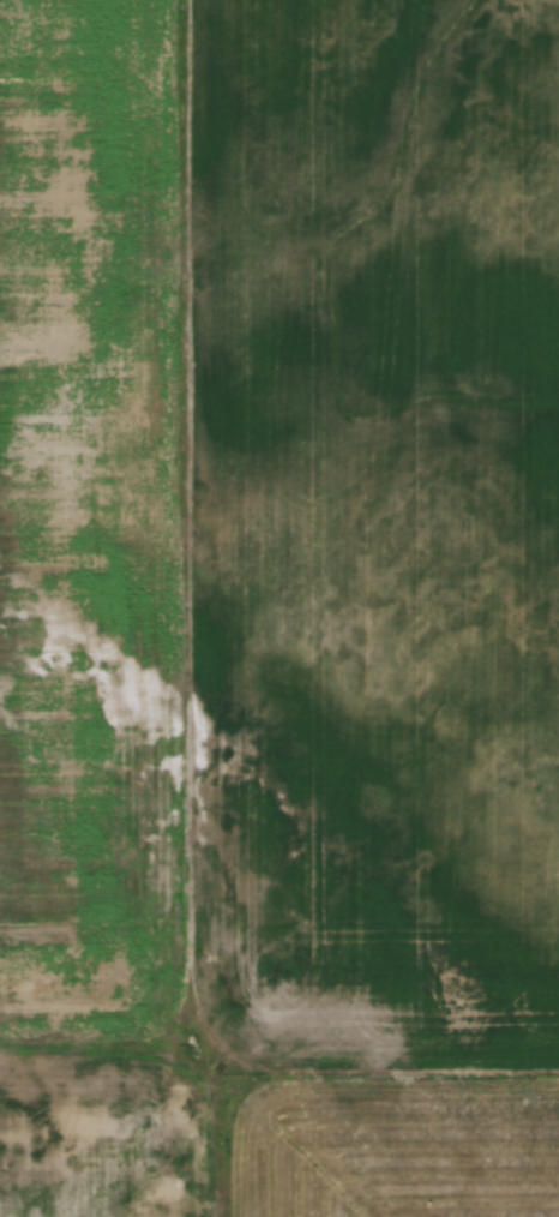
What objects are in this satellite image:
road: (278, 1061)

